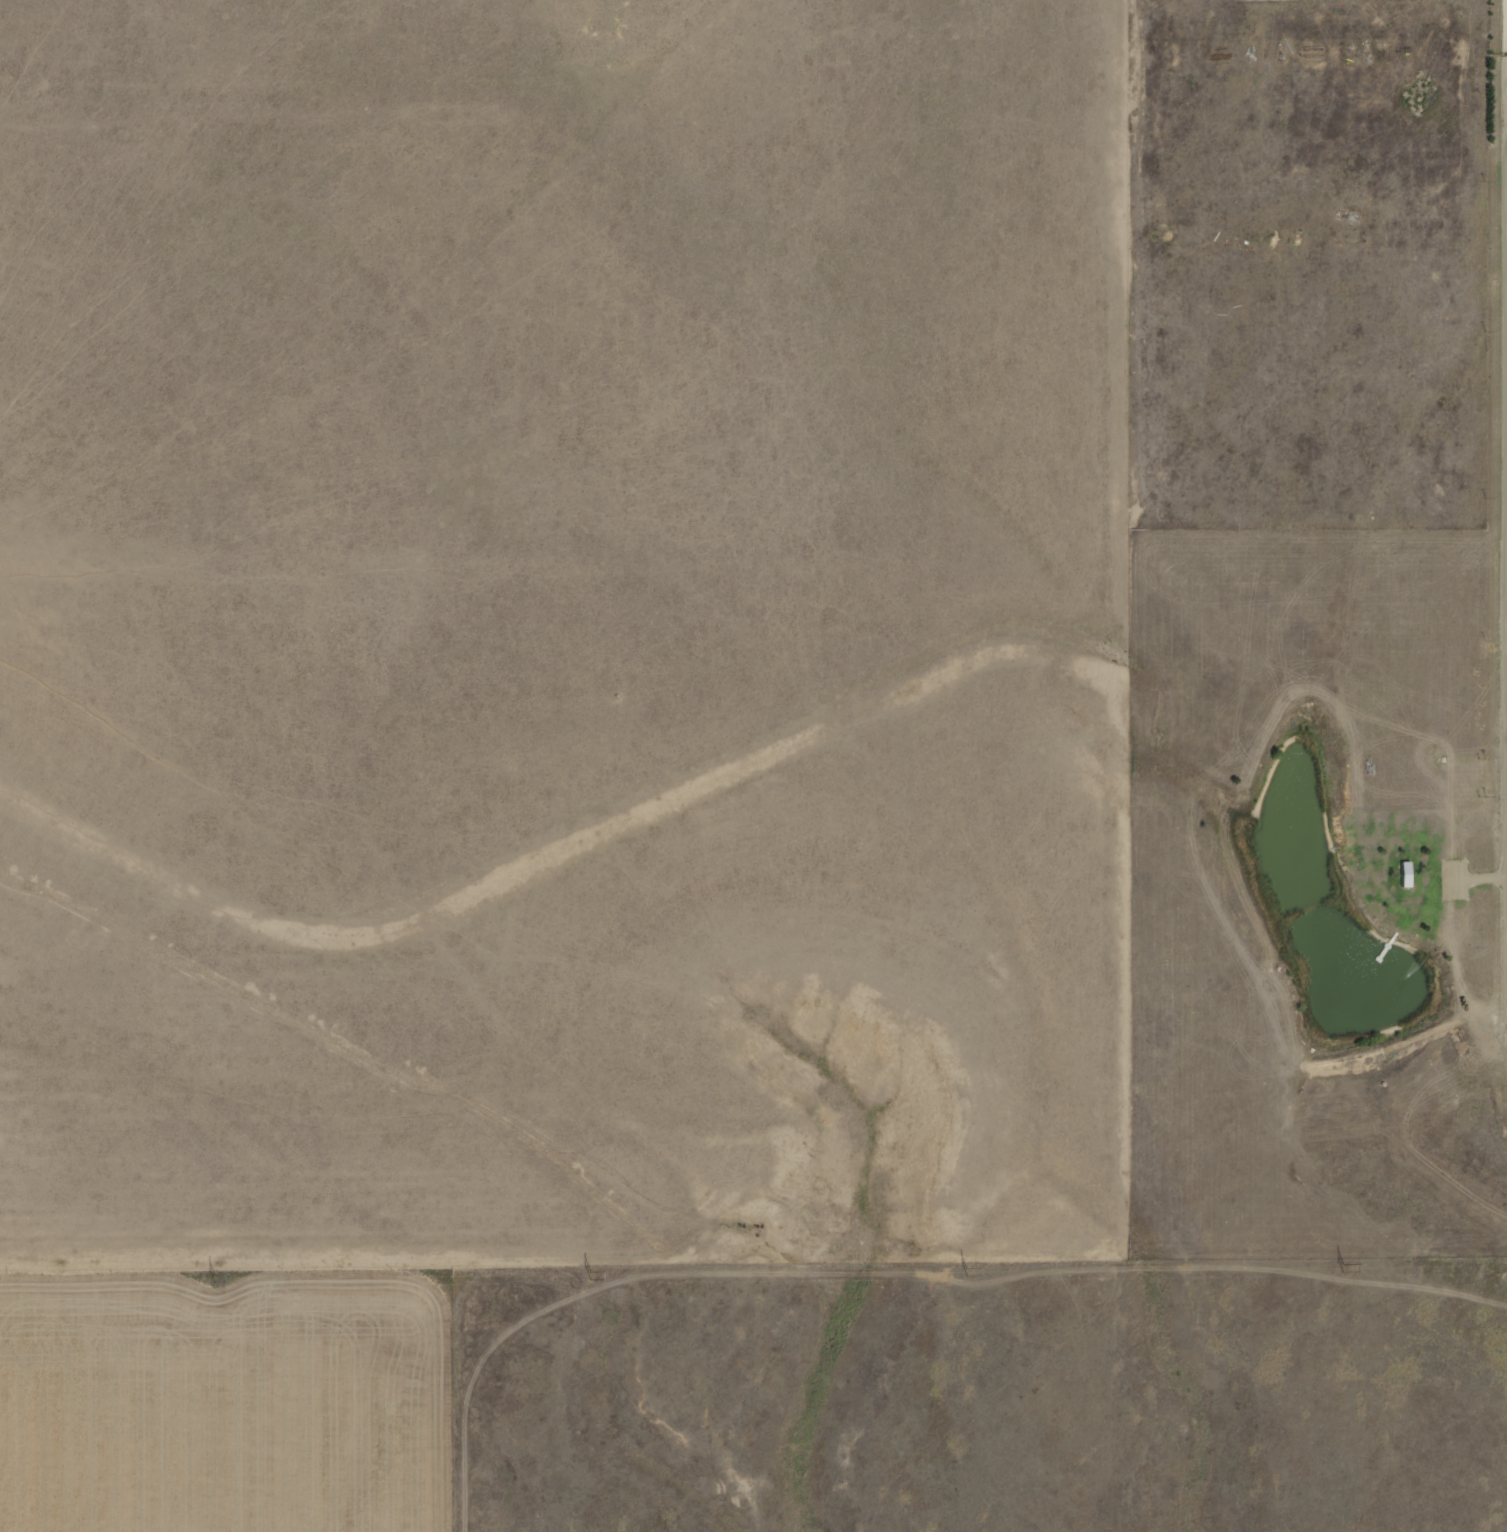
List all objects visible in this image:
building: (1393, 874)

